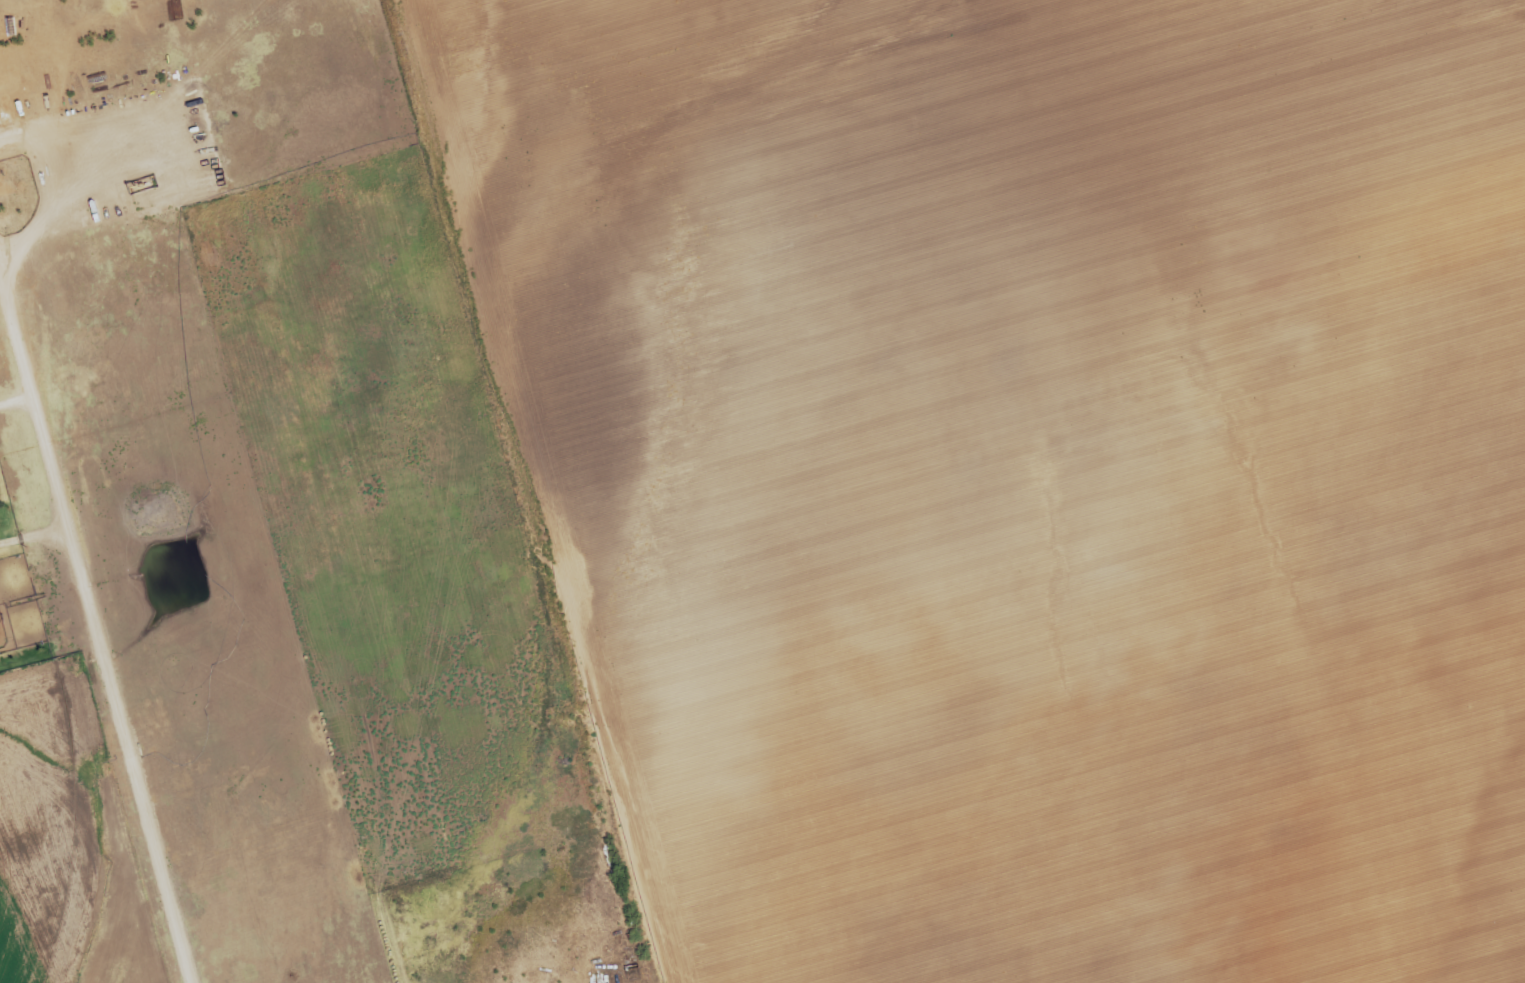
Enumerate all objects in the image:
road: (44, 453)
road: (32, 538)
road: (126, 757)

